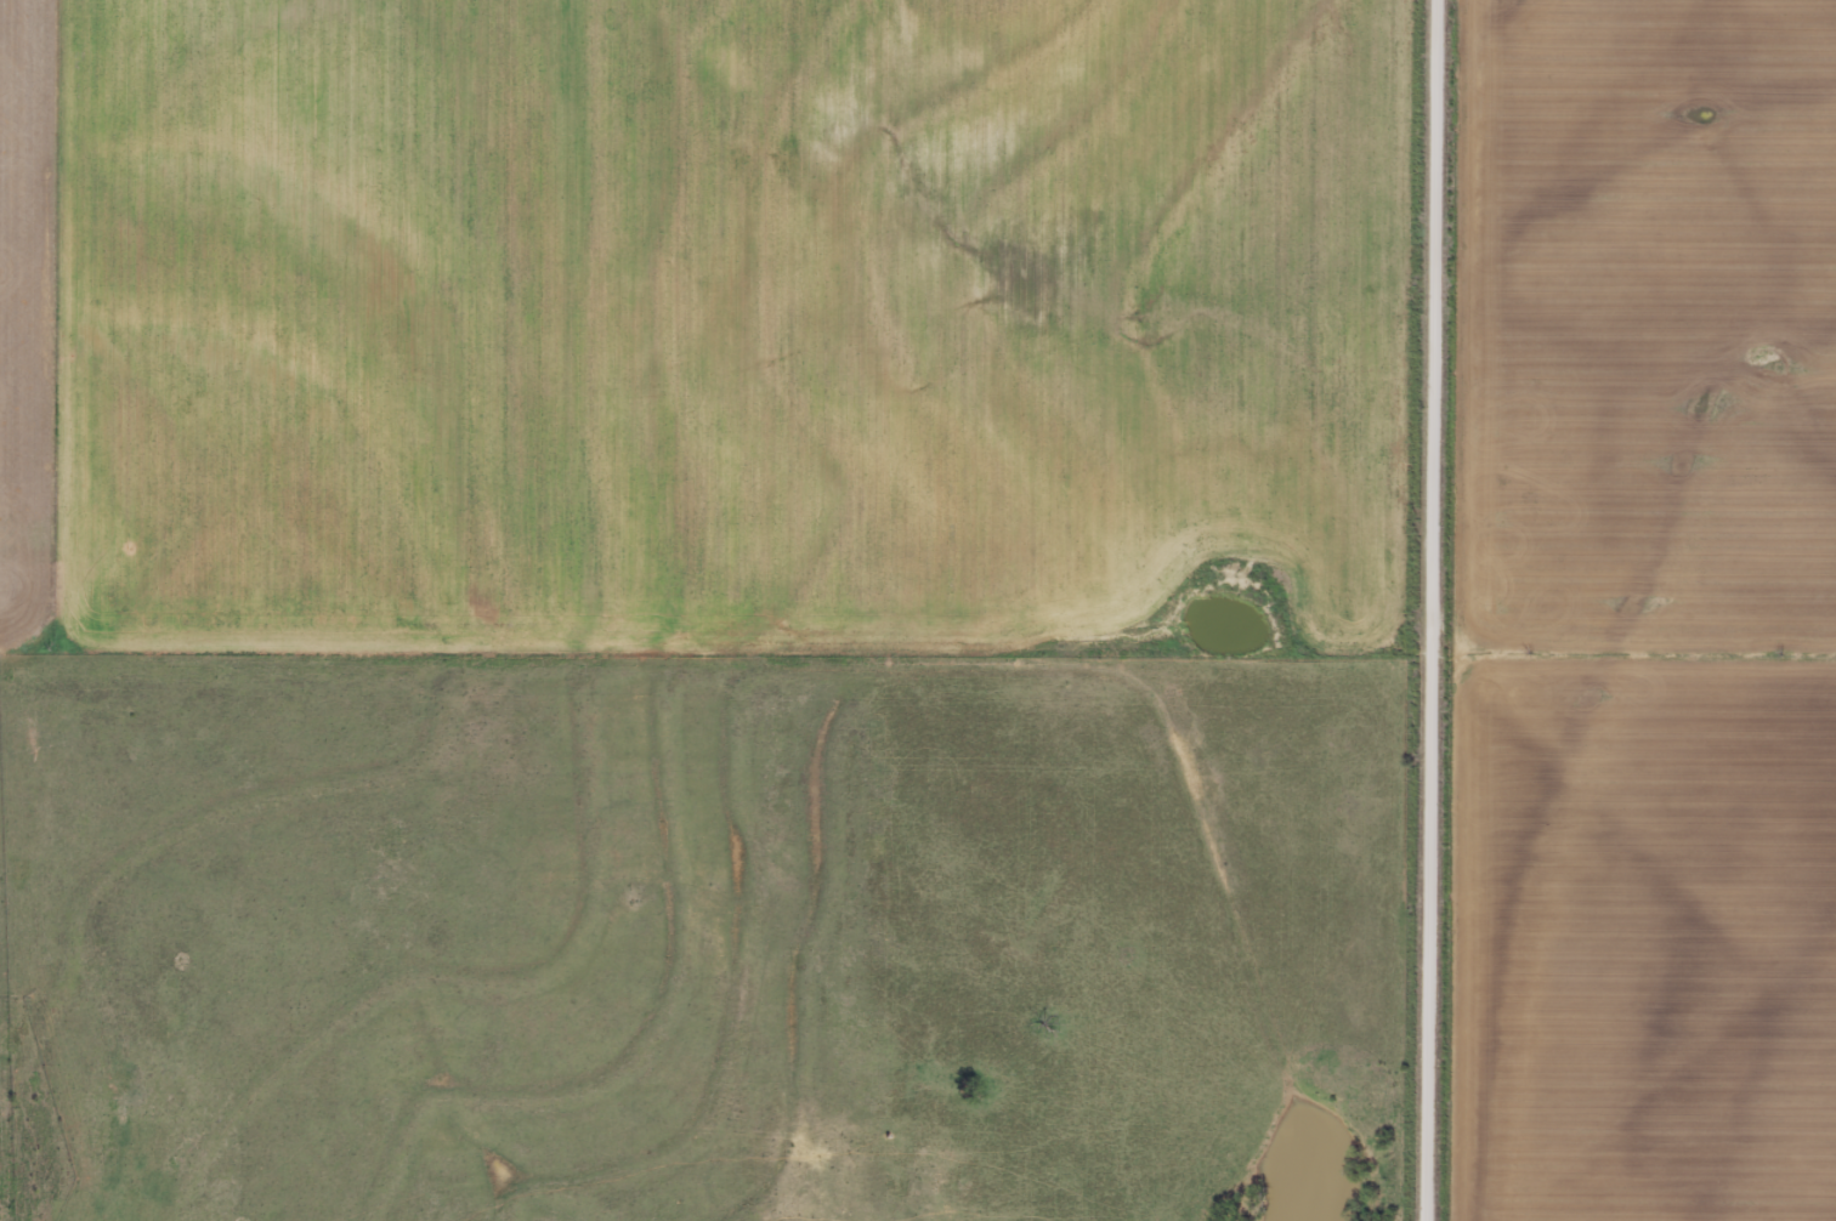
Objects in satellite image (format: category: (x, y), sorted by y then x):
road: (1438, 610)

